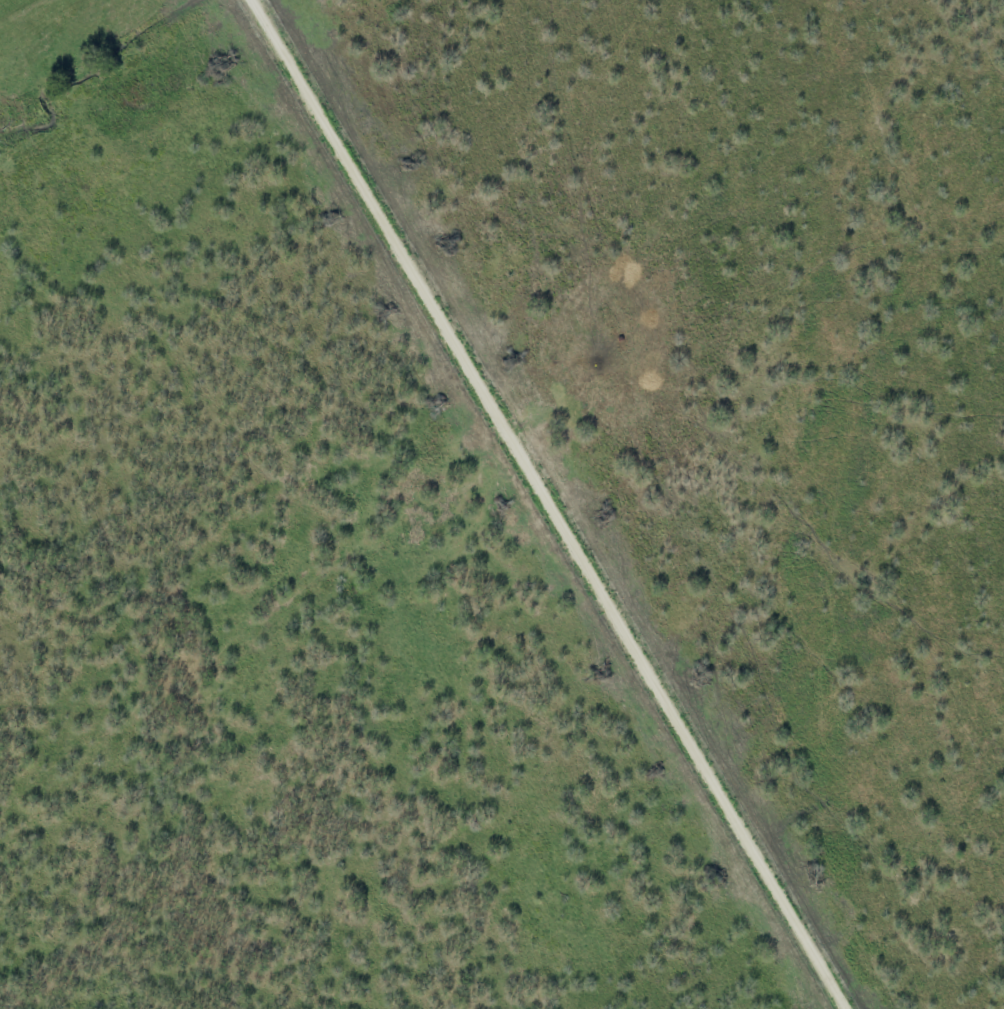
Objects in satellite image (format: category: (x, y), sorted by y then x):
road: (556, 505)

